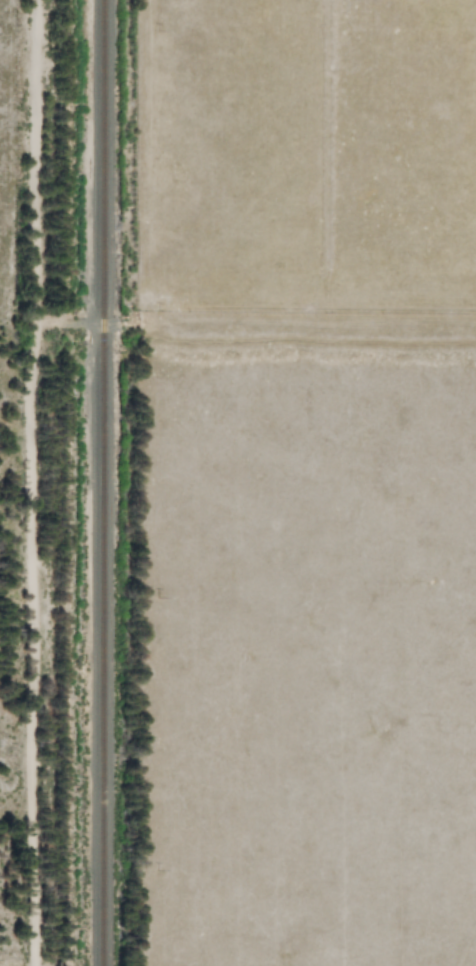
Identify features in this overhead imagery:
road: (34, 161)
road: (255, 322)
railway: (99, 483)
road: (32, 644)

